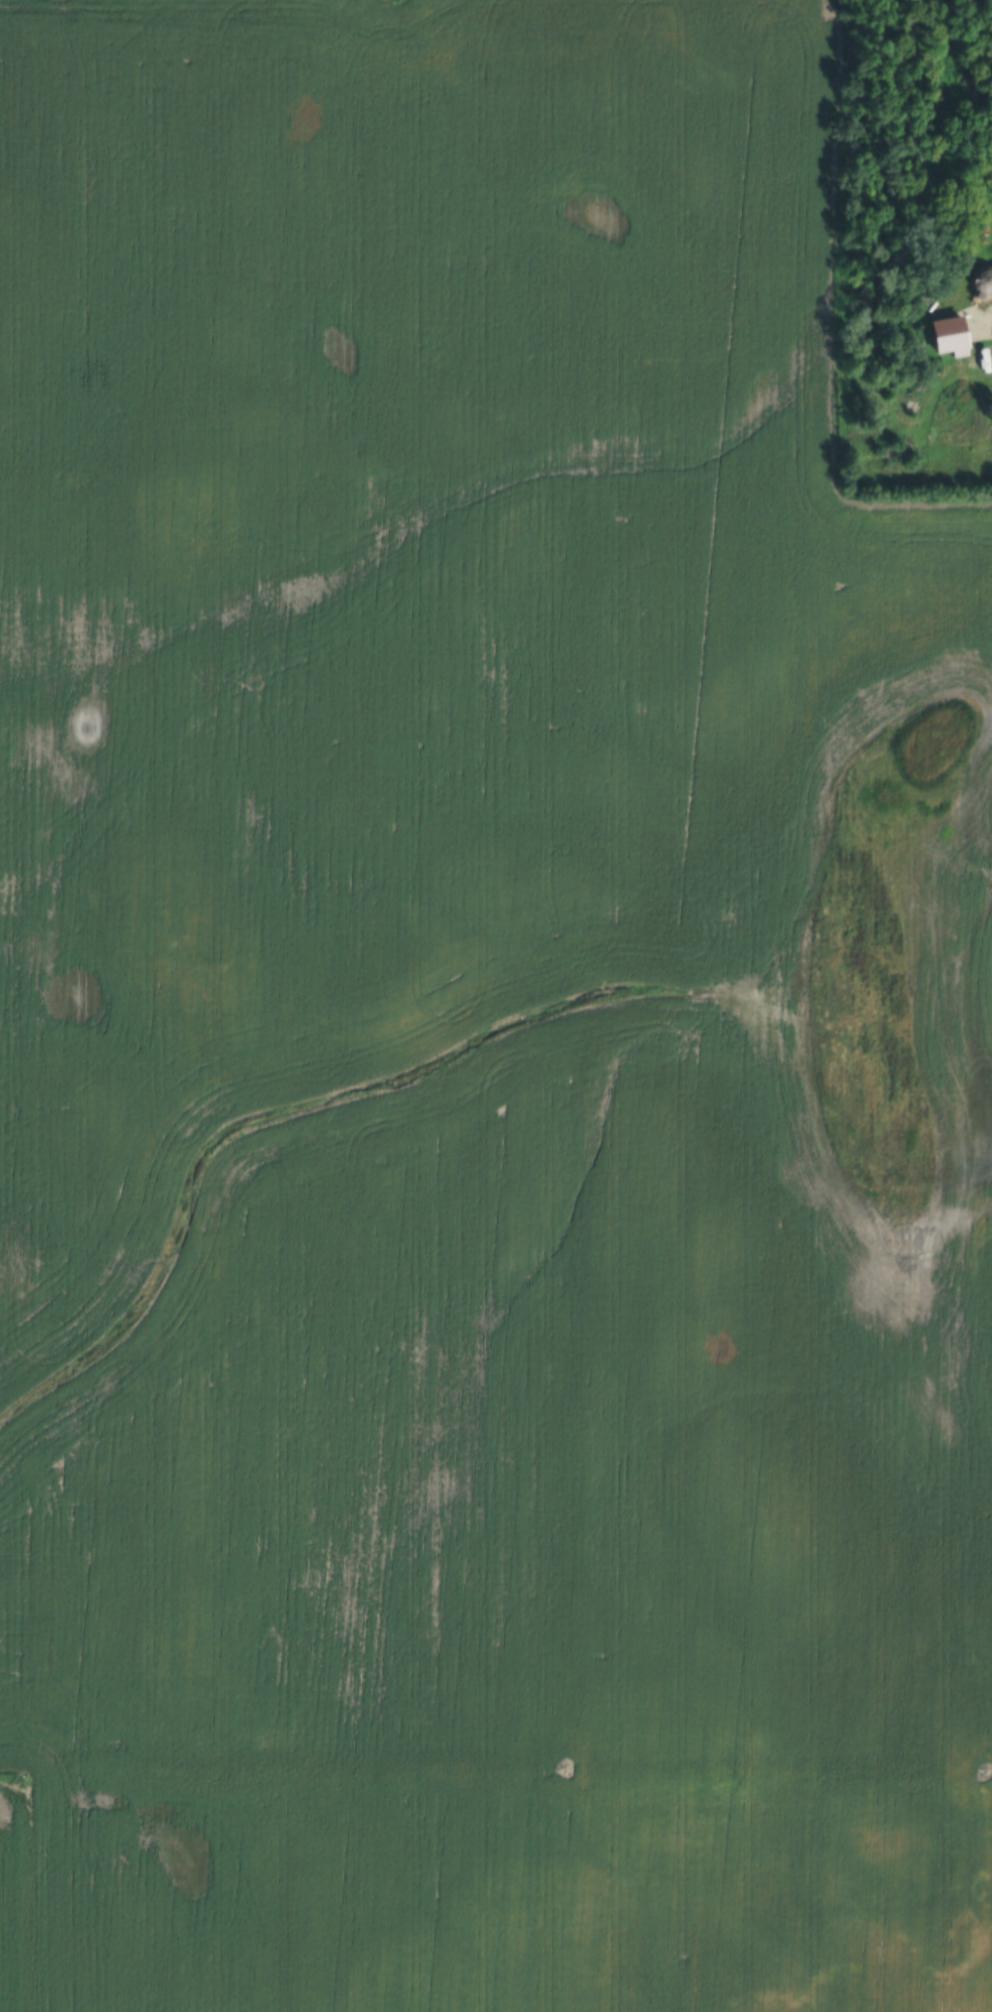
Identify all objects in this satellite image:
building: (982, 281)
road: (991, 318)

